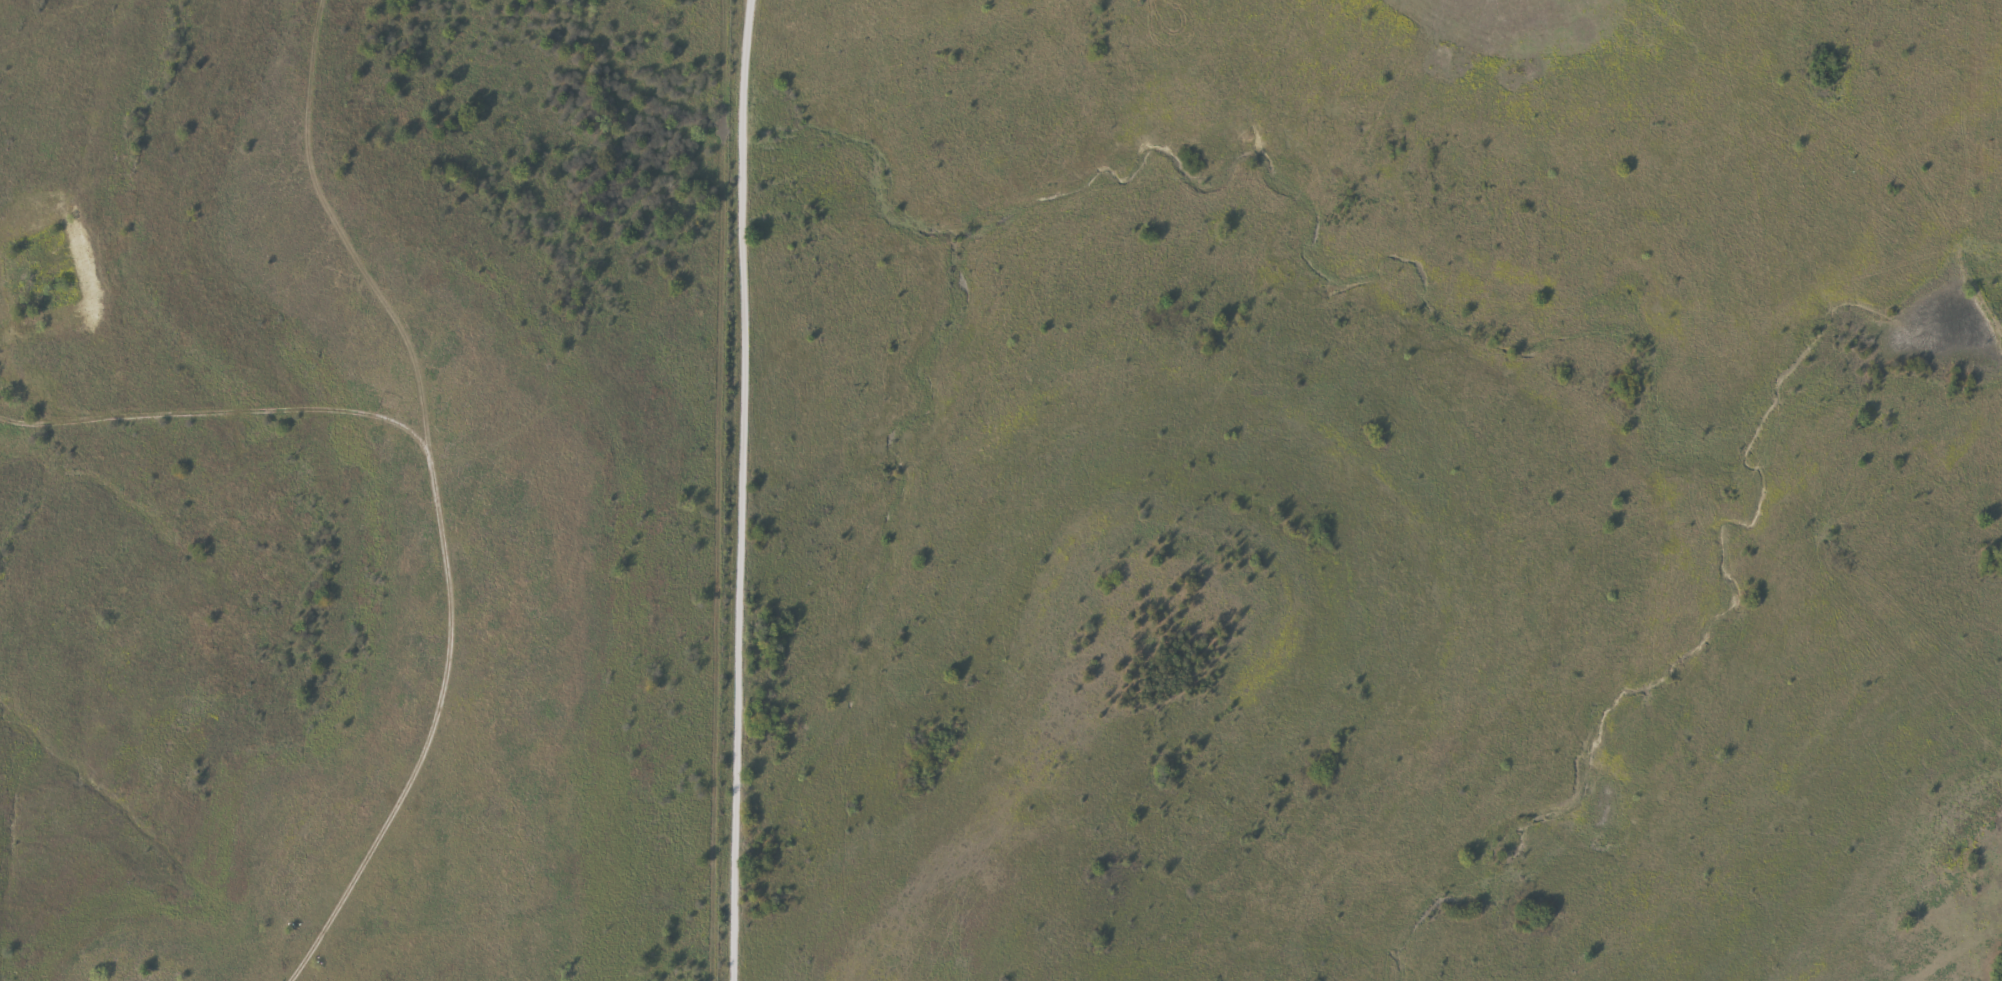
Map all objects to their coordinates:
road: (736, 490)
road: (449, 525)
building: (1150, 628)
building: (2000, 972)

